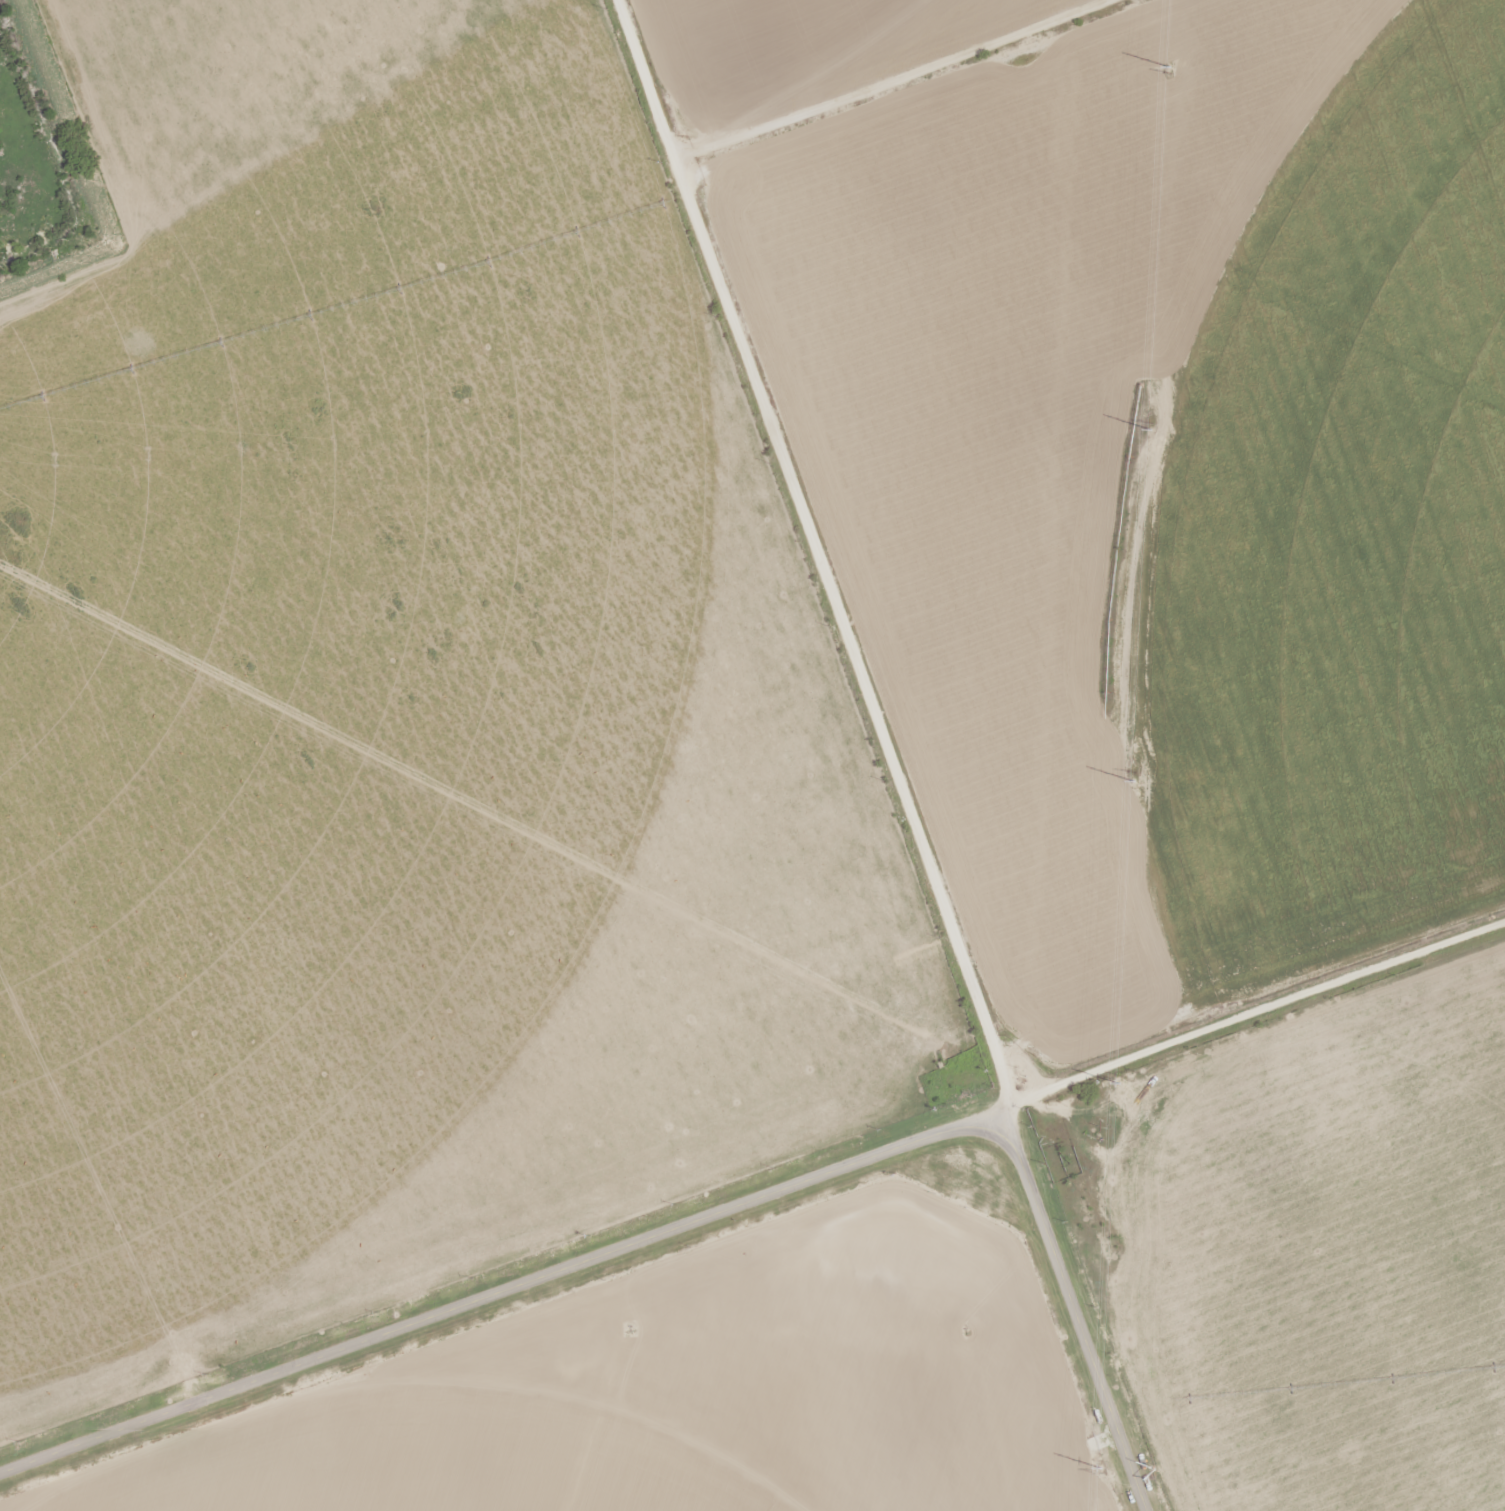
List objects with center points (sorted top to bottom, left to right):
power tower: (1168, 72)
power tower: (1150, 423)
road: (821, 567)
power tower: (1133, 772)
road: (1244, 1012)
power tower: (1119, 1078)
road: (692, 1221)
power tower: (1101, 1474)

